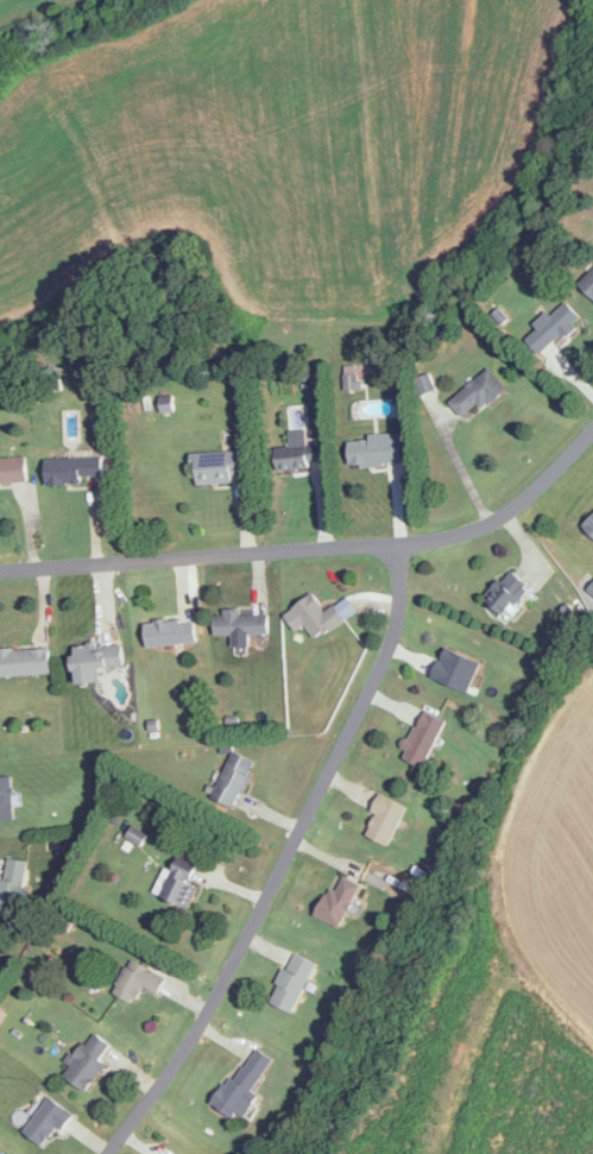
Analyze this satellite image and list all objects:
building: (587, 284)
building: (551, 329)
building: (424, 384)
building: (475, 395)
building: (373, 450)
building: (297, 453)
building: (219, 467)
building: (72, 469)
building: (12, 471)
building: (588, 526)
road: (315, 554)
building: (505, 594)
building: (316, 617)
building: (240, 624)
building: (169, 633)
building: (94, 662)
building: (24, 663)
building: (422, 739)
building: (233, 781)
building: (6, 800)
building: (384, 820)
building: (135, 837)
road: (278, 860)
building: (11, 887)
building: (176, 888)
building: (137, 983)
building: (291, 984)
building: (242, 1084)
building: (45, 1122)
building: (6, 1153)

